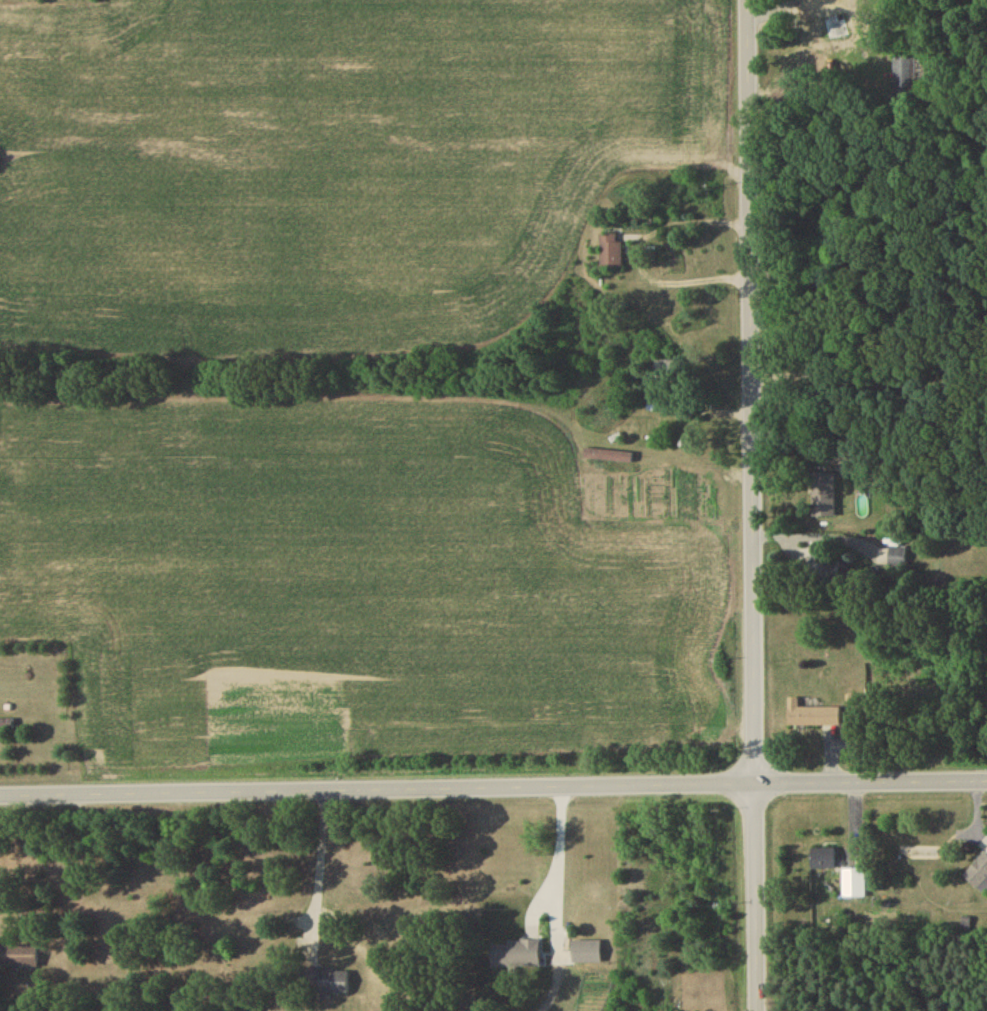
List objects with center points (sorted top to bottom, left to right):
building: (819, 2)
building: (914, 79)
road: (636, 242)
building: (611, 254)
road: (816, 356)
building: (823, 497)
road: (750, 505)
road: (812, 526)
building: (897, 561)
building: (823, 565)
building: (812, 717)
building: (6, 726)
road: (493, 790)
road: (555, 854)
road: (321, 874)
building: (979, 877)
building: (854, 884)
building: (516, 957)
building: (18, 959)
building: (324, 983)

